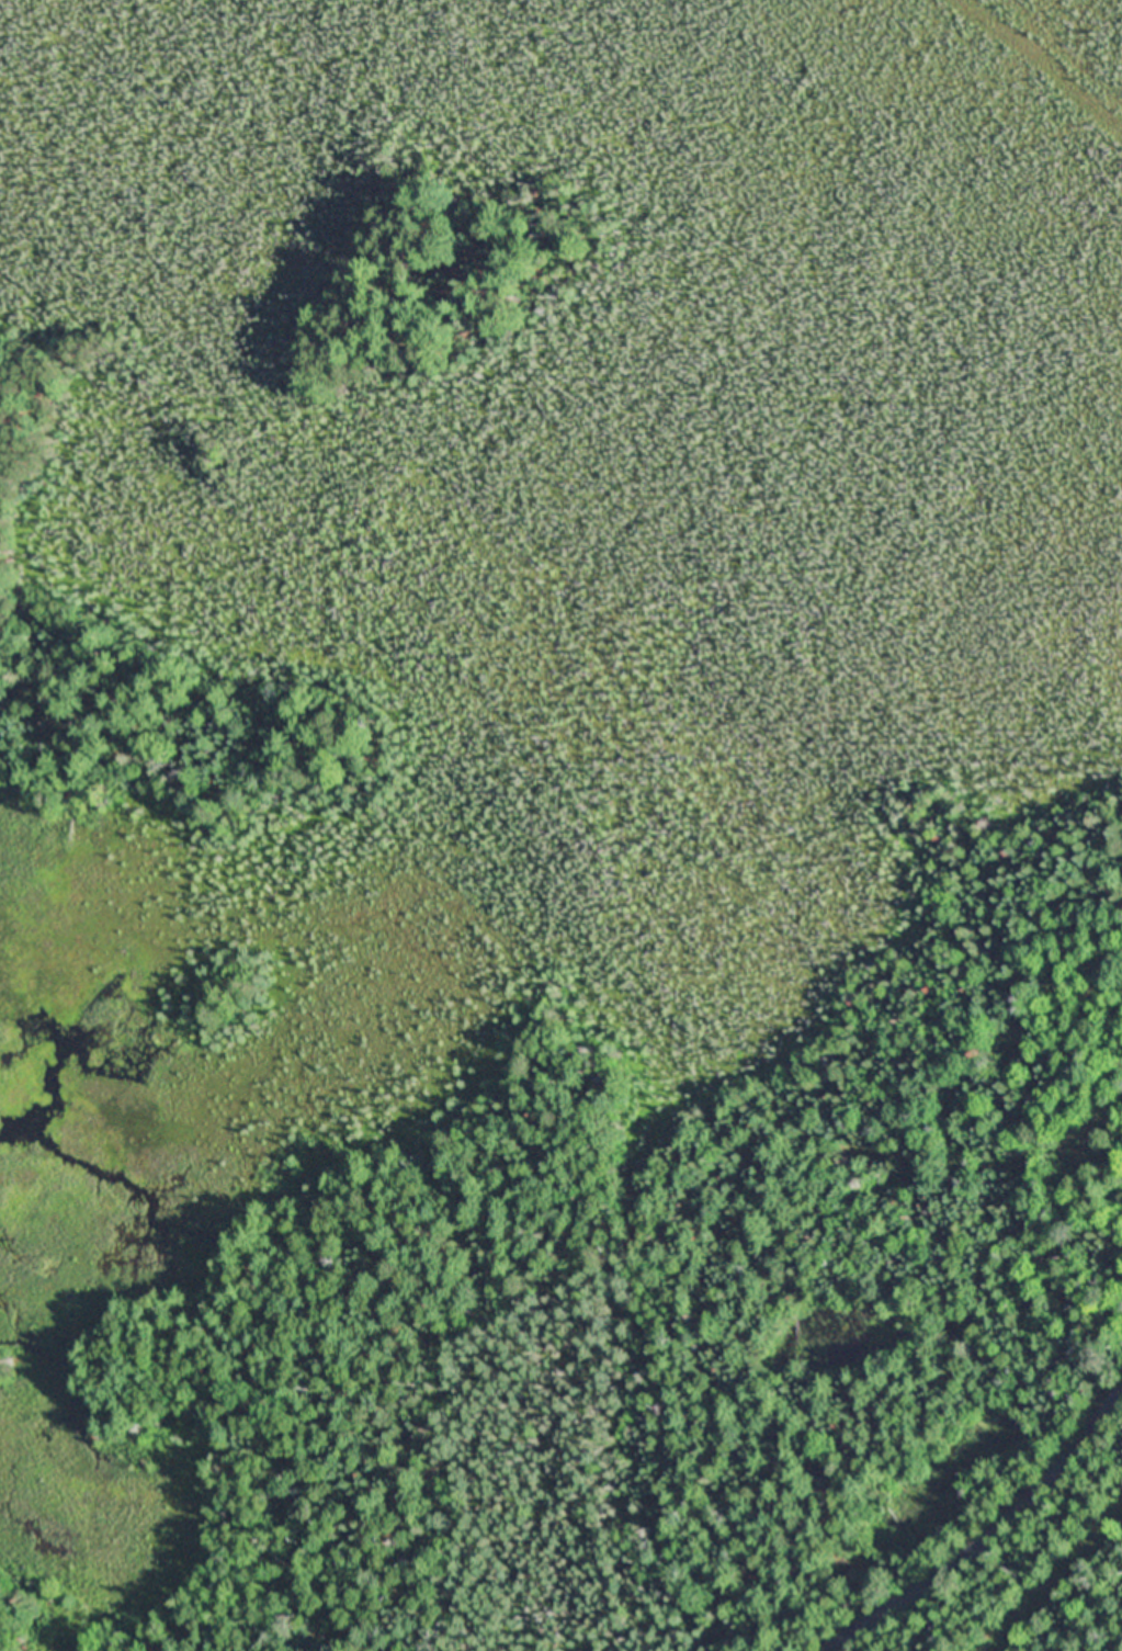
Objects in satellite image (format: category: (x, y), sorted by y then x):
road: (829, 672)
road: (991, 1540)

